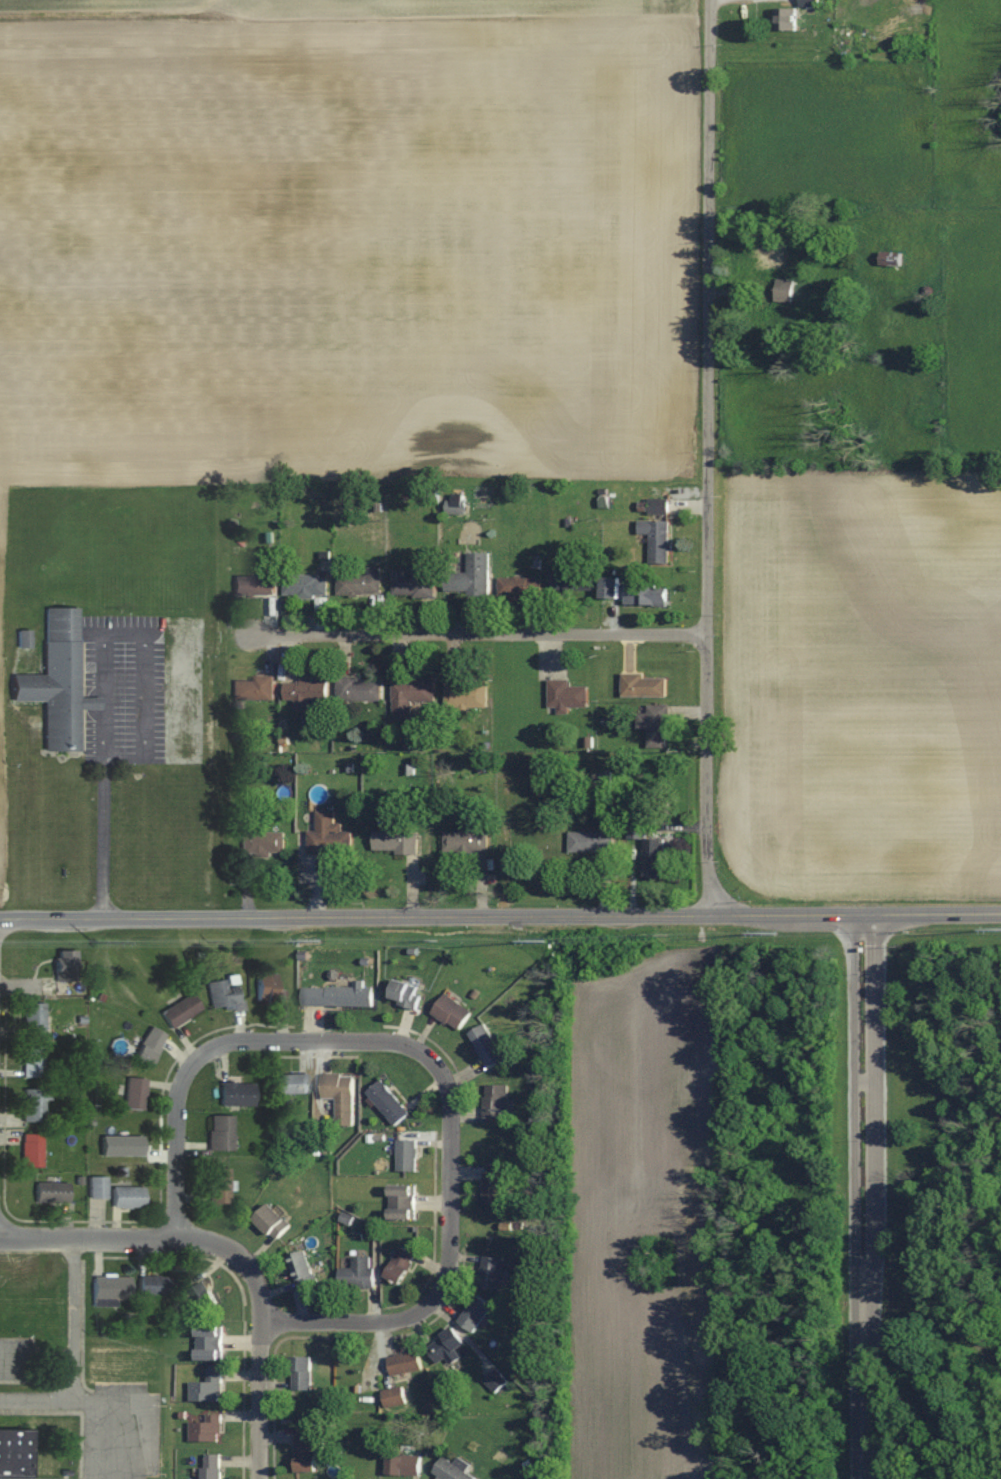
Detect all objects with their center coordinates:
building: (816, 4)
building: (785, 20)
building: (848, 38)
building: (773, 255)
building: (892, 259)
building: (785, 291)
road: (707, 457)
building: (658, 500)
building: (456, 506)
building: (657, 539)
building: (470, 576)
building: (571, 581)
building: (412, 582)
building: (361, 583)
building: (254, 584)
building: (305, 584)
building: (520, 586)
building: (611, 586)
building: (647, 595)
road: (478, 632)
building: (23, 640)
road: (104, 679)
building: (58, 681)
building: (642, 686)
building: (254, 688)
building: (359, 688)
building: (305, 692)
building: (466, 693)
building: (411, 695)
building: (568, 695)
building: (655, 725)
building: (633, 829)
building: (328, 835)
building: (395, 841)
building: (591, 841)
building: (466, 842)
building: (263, 843)
building: (655, 857)
road: (500, 915)
building: (62, 969)
building: (269, 990)
building: (222, 993)
building: (406, 994)
building: (338, 995)
building: (181, 1010)
building: (452, 1012)
building: (34, 1019)
road: (386, 1039)
building: (487, 1046)
building: (148, 1047)
building: (32, 1060)
building: (292, 1083)
building: (135, 1093)
building: (237, 1096)
building: (341, 1096)
road: (178, 1097)
building: (495, 1100)
building: (389, 1102)
building: (34, 1104)
road: (873, 1109)
road: (854, 1110)
building: (221, 1133)
building: (32, 1149)
building: (407, 1155)
building: (219, 1185)
building: (97, 1186)
building: (493, 1188)
building: (51, 1191)
road: (450, 1193)
building: (127, 1196)
building: (403, 1202)
building: (271, 1222)
road: (88, 1237)
building: (401, 1266)
building: (302, 1268)
building: (491, 1272)
building: (358, 1274)
building: (155, 1284)
building: (111, 1287)
building: (204, 1296)
building: (476, 1313)
road: (358, 1318)
road: (258, 1331)
building: (209, 1343)
building: (447, 1347)
road: (72, 1351)
building: (405, 1363)
building: (301, 1373)
building: (496, 1381)
building: (208, 1387)
road: (862, 1391)
building: (394, 1397)
building: (206, 1429)
building: (308, 1450)
building: (14, 1453)
building: (404, 1465)
building: (213, 1466)
building: (454, 1469)

